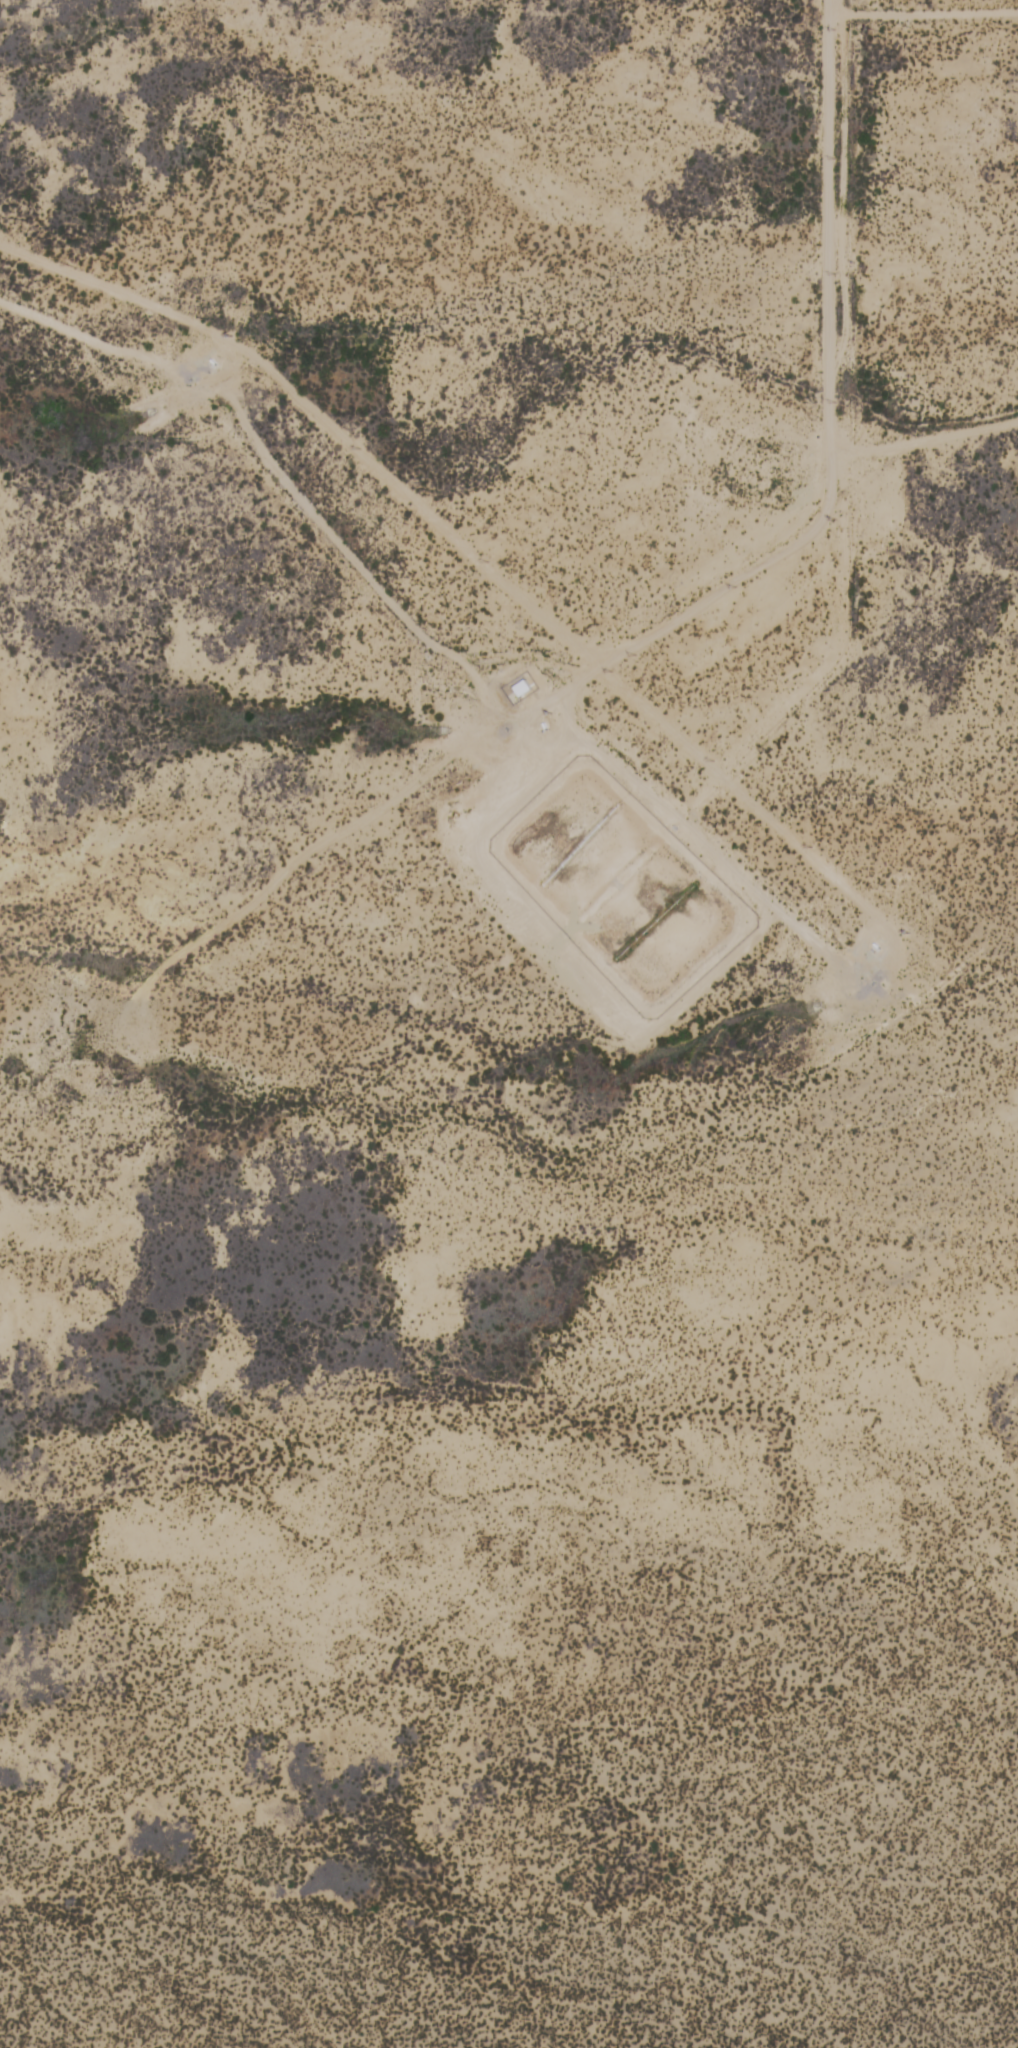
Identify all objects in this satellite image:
building: (522, 690)

